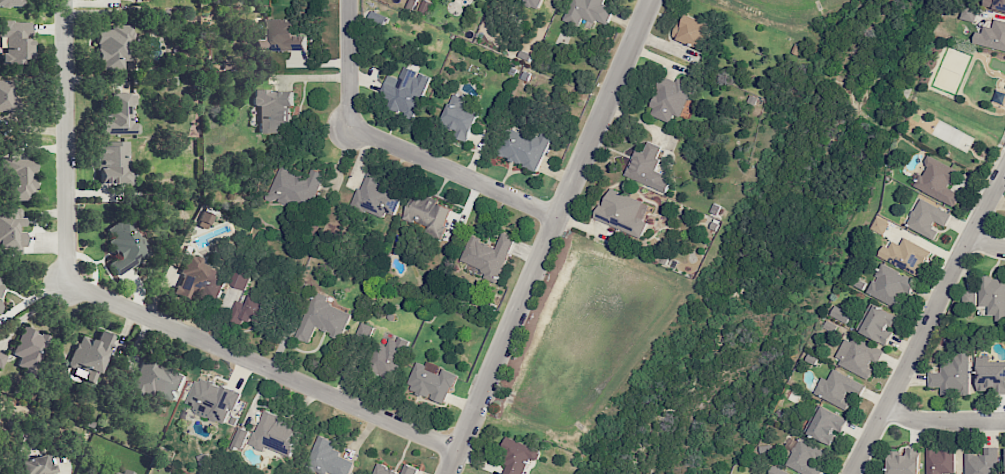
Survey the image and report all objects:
building: (533, 2)
building: (11, 3)
building: (995, 4)
building: (425, 6)
building: (588, 11)
building: (968, 13)
building: (376, 18)
building: (692, 31)
building: (992, 35)
building: (280, 36)
building: (16, 41)
building: (113, 47)
building: (403, 90)
building: (7, 95)
building: (670, 98)
building: (273, 110)
building: (120, 116)
building: (459, 117)
road: (395, 145)
building: (526, 147)
building: (115, 163)
building: (647, 167)
building: (20, 178)
building: (937, 180)
building: (295, 188)
building: (376, 196)
building: (623, 212)
building: (427, 213)
building: (205, 219)
building: (927, 219)
building: (879, 225)
building: (10, 230)
road: (547, 236)
building: (127, 244)
road: (986, 244)
building: (486, 254)
building: (905, 255)
building: (240, 278)
building: (198, 279)
building: (890, 285)
building: (969, 296)
building: (992, 296)
building: (0, 310)
building: (250, 310)
road: (131, 311)
building: (840, 314)
building: (323, 319)
road: (927, 321)
building: (877, 323)
building: (364, 331)
building: (30, 347)
building: (858, 355)
building: (89, 356)
building: (388, 356)
building: (2, 359)
building: (952, 375)
building: (991, 378)
building: (158, 380)
building: (431, 381)
building: (839, 389)
building: (213, 401)
road: (943, 421)
building: (826, 425)
building: (275, 434)
building: (240, 438)
building: (516, 456)
building: (328, 458)
building: (805, 458)
building: (939, 460)
building: (904, 461)
building: (981, 462)
building: (37, 465)
building: (380, 466)
building: (778, 471)
building: (119, 472)

